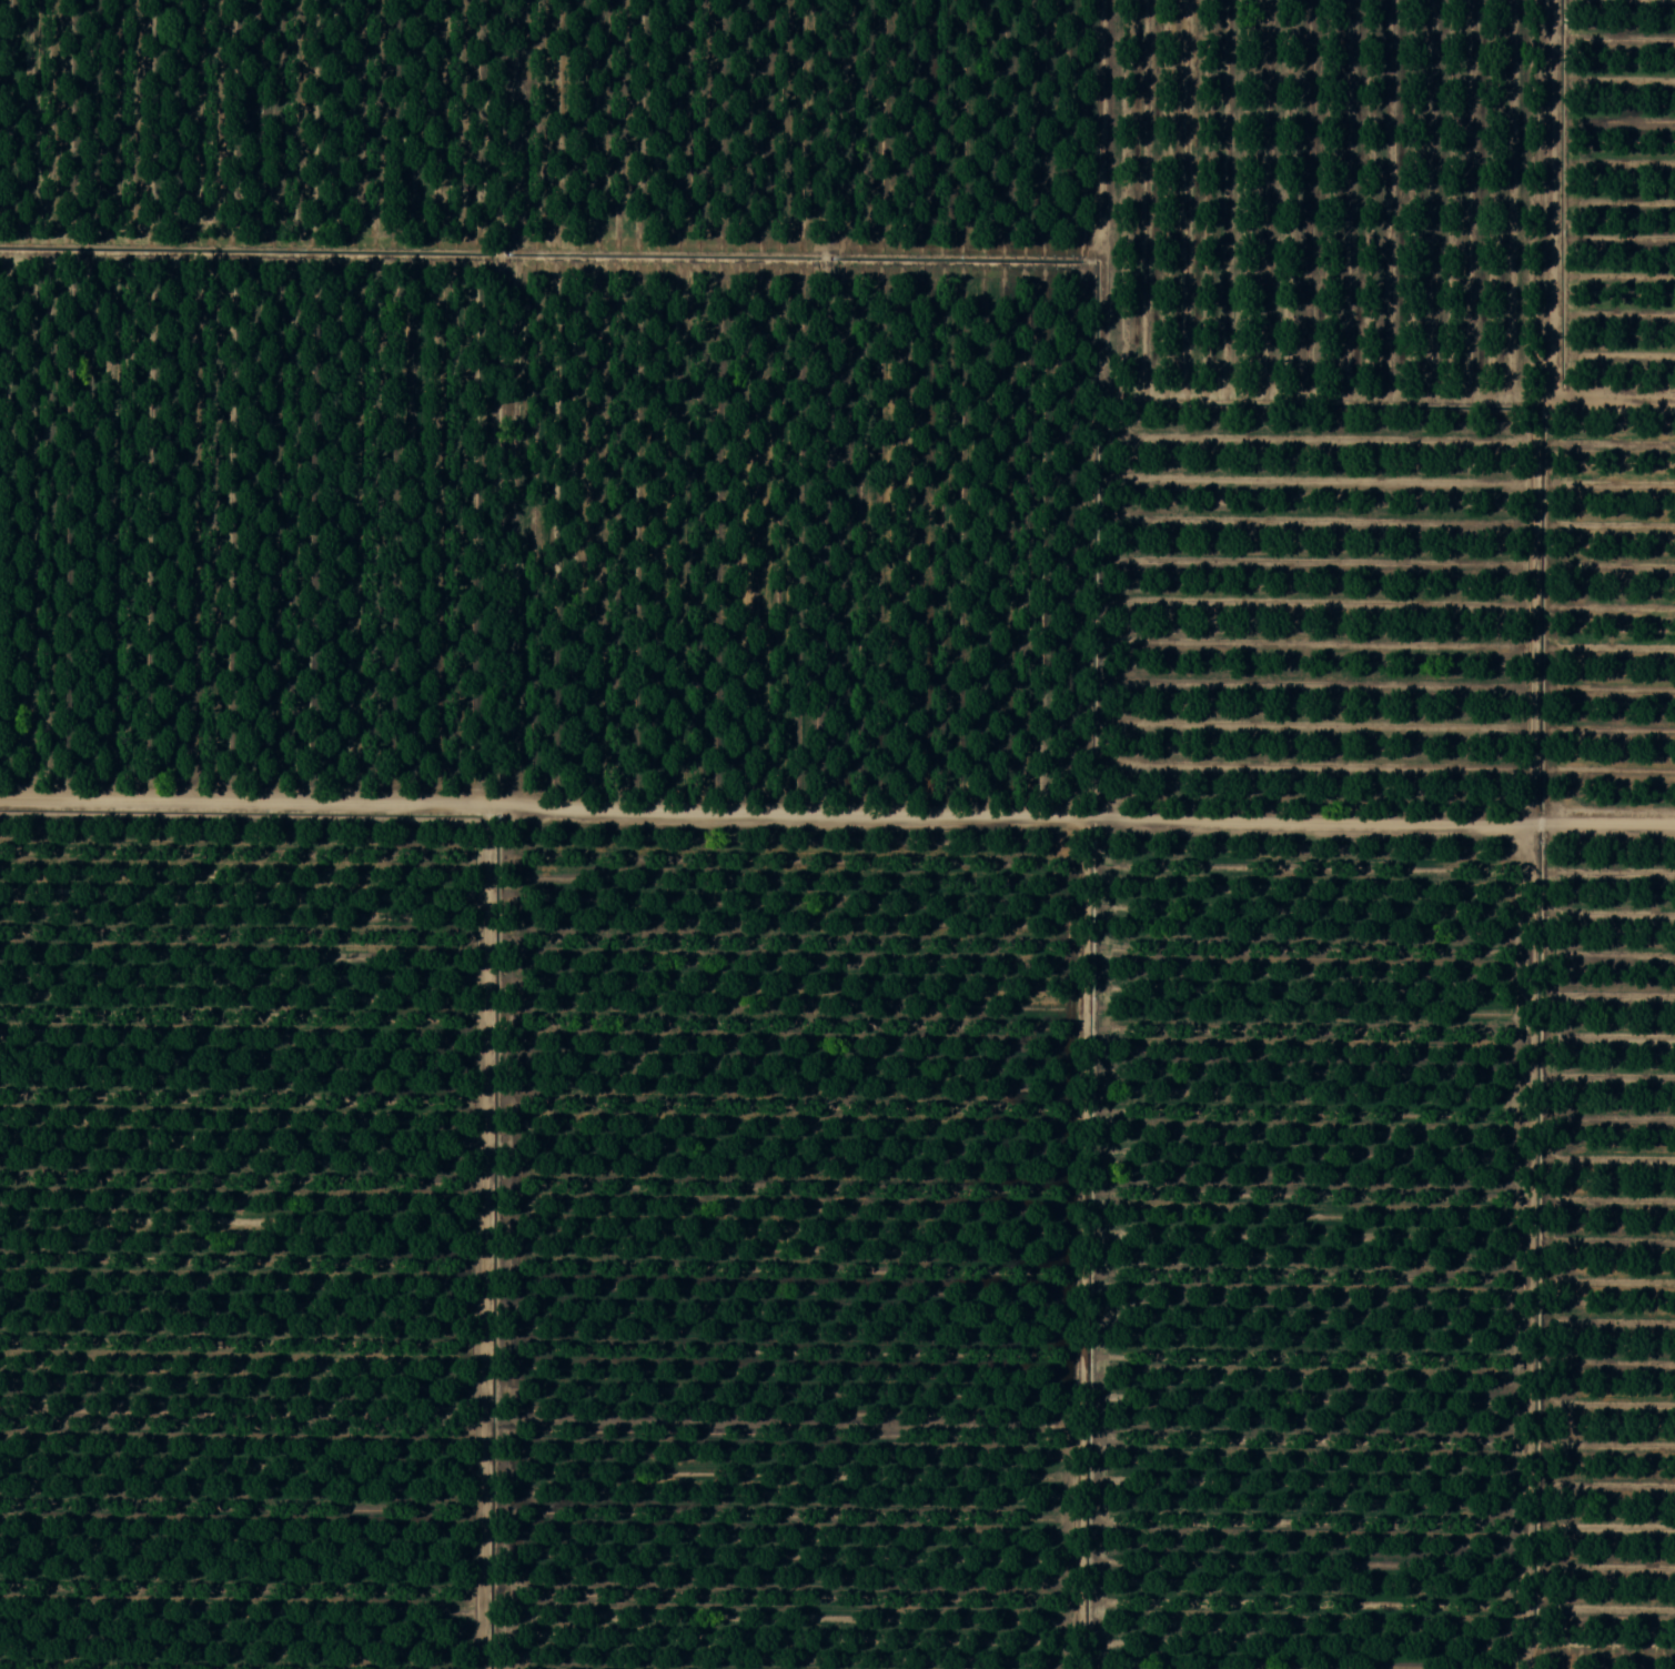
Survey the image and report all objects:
road: (837, 810)

